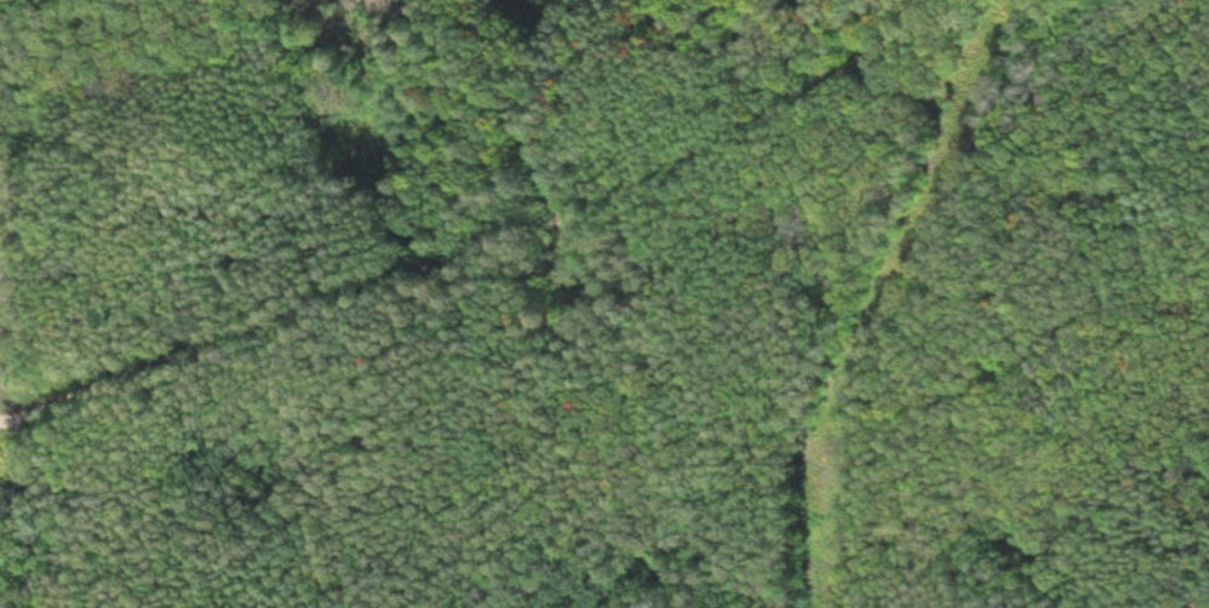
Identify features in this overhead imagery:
road: (487, 253)

